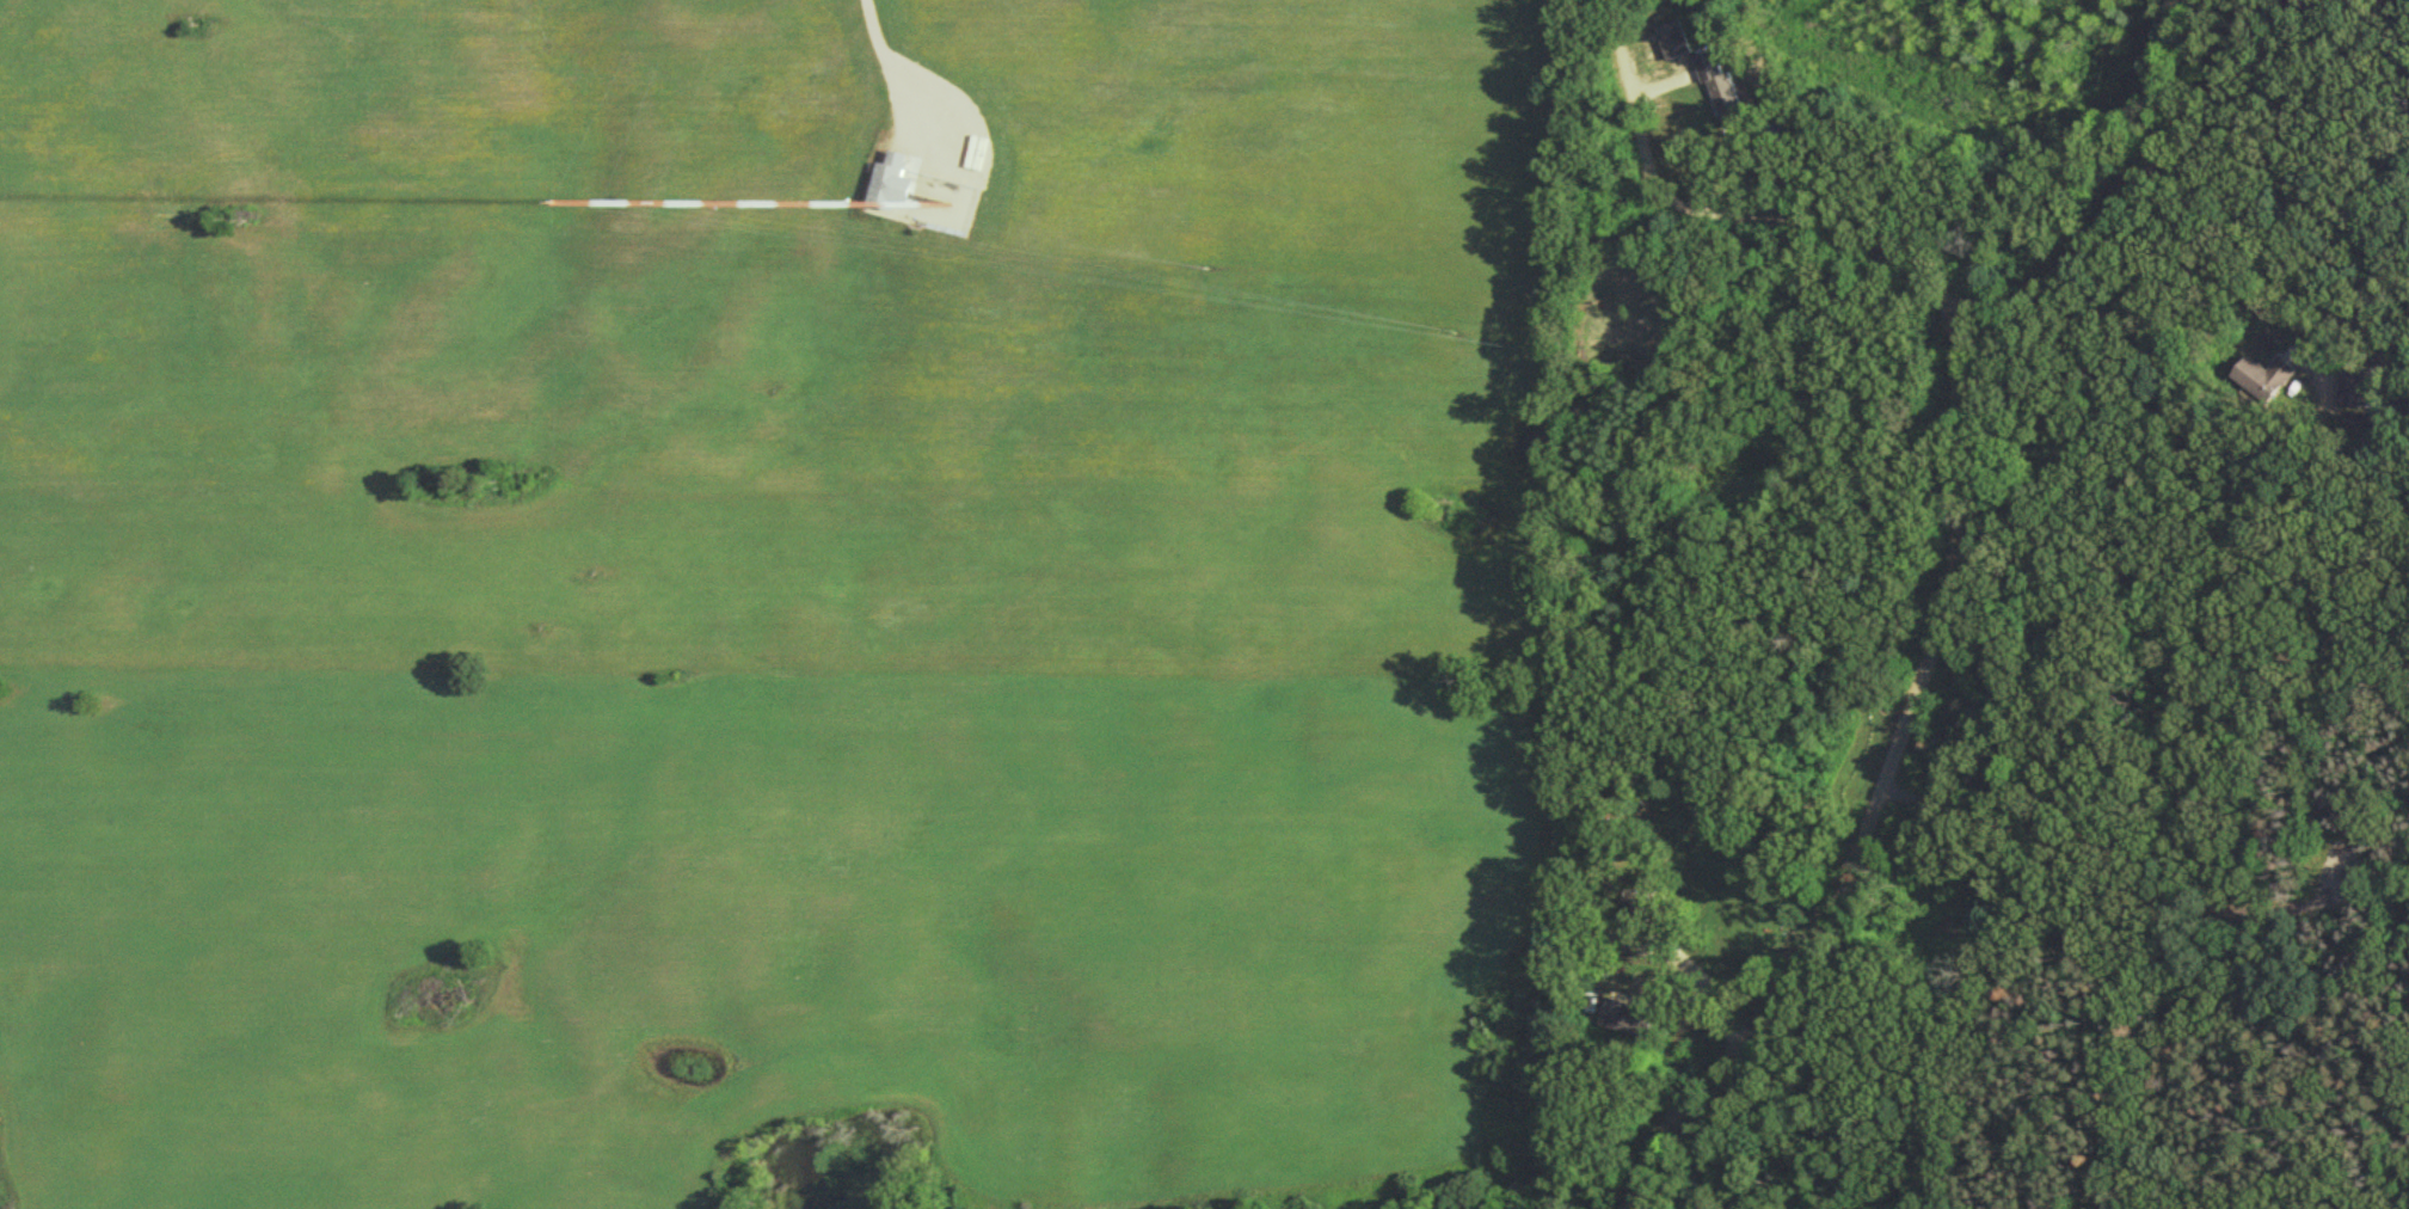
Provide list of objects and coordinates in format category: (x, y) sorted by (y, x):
building: (1679, 44)
road: (886, 67)
building: (1726, 97)
road: (2134, 178)
building: (891, 186)
road: (1717, 213)
road: (2183, 288)
building: (2255, 382)
road: (1879, 796)
building: (1640, 929)
building: (1629, 1020)

